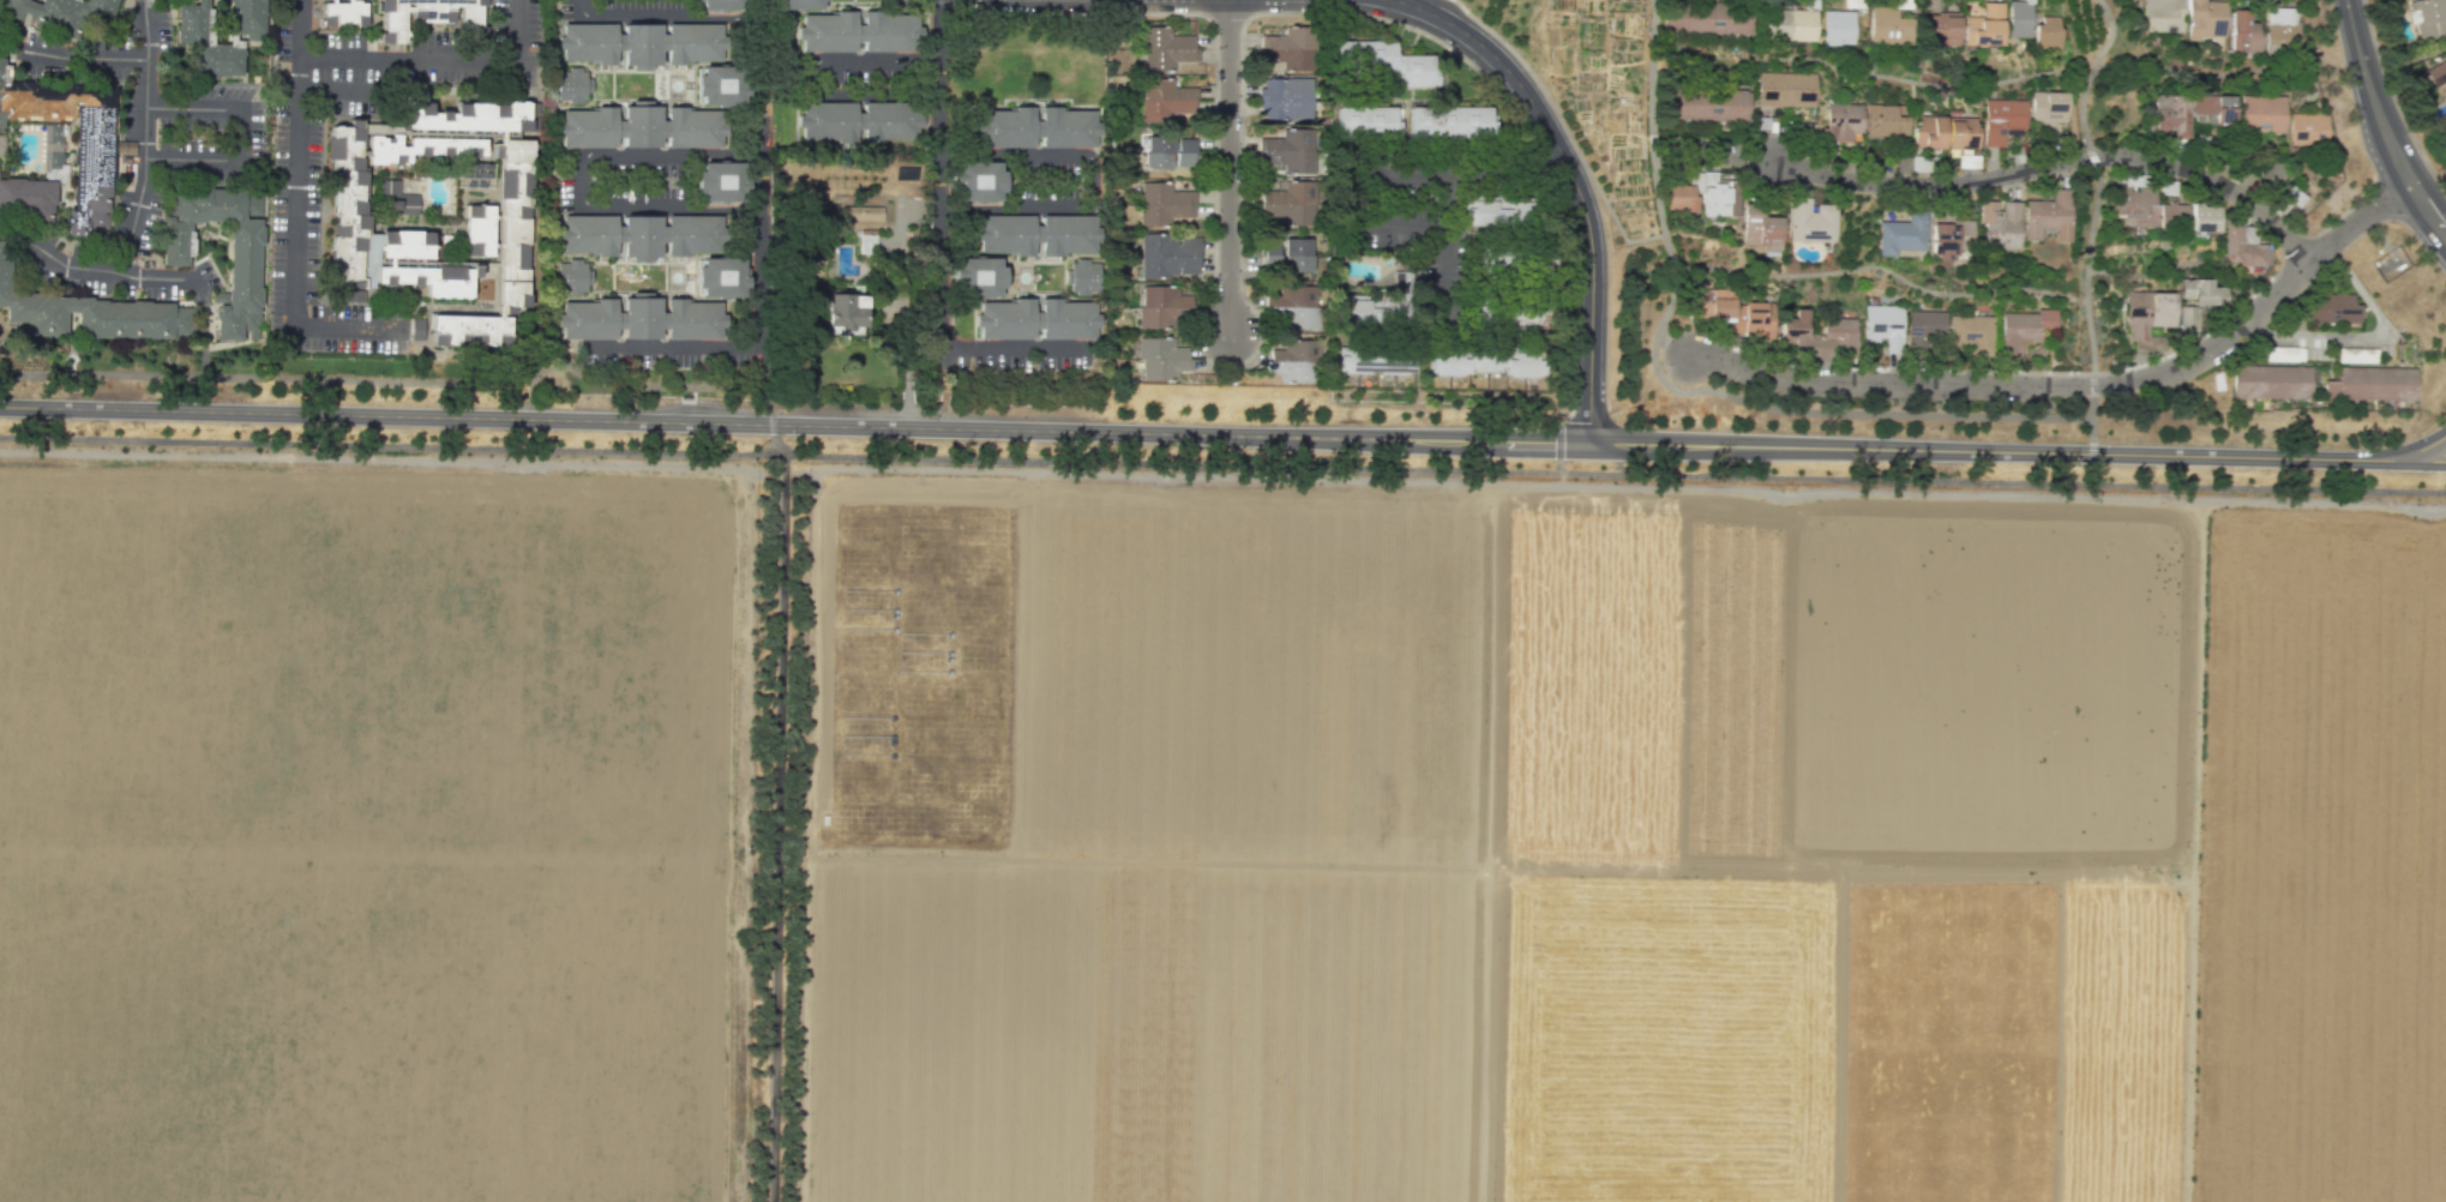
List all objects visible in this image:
road: (1402, 0)
building: (722, 2)
building: (801, 4)
road: (663, 14)
building: (2162, 14)
building: (344, 17)
building: (432, 17)
building: (1703, 17)
building: (2020, 18)
building: (2205, 18)
building: (2428, 18)
building: (62, 19)
building: (1991, 24)
building: (1792, 26)
building: (1888, 28)
building: (2280, 28)
street lamp: (1407, 29)
building: (1839, 29)
building: (2048, 29)
building: (1945, 30)
building: (860, 31)
building: (2242, 32)
road: (2110, 34)
building: (1161, 35)
road: (13, 37)
building: (639, 41)
building: (193, 47)
building: (1287, 48)
building: (1167, 54)
road: (2404, 54)
road: (83, 56)
road: (437, 56)
road: (531, 56)
building: (1386, 58)
road: (2090, 70)
building: (2436, 72)
road: (2213, 73)
road: (815, 74)
road: (1868, 74)
building: (721, 79)
building: (572, 85)
building: (1165, 86)
street lamp: (2346, 86)
building: (1785, 89)
road: (339, 95)
building: (1285, 98)
building: (1708, 104)
building: (1161, 107)
building: (2051, 108)
building: (2212, 108)
road: (2081, 110)
building: (2170, 113)
building: (2262, 113)
building: (858, 116)
building: (1365, 118)
building: (1450, 119)
building: (471, 120)
building: (2002, 120)
building: (1888, 121)
building: (1841, 125)
road: (1564, 126)
building: (641, 127)
road: (2381, 127)
building: (1036, 128)
building: (2308, 128)
building: (1930, 132)
building: (1964, 133)
road: (242, 136)
road: (144, 138)
building: (1287, 138)
building: (1158, 139)
building: (50, 143)
building: (1, 145)
building: (1184, 151)
building: (91, 152)
building: (429, 155)
building: (1155, 156)
building: (1290, 157)
road: (2093, 157)
road: (1719, 158)
road: (1365, 161)
road: (2055, 163)
road: (1228, 166)
road: (758, 173)
building: (974, 174)
building: (721, 175)
road: (579, 178)
road: (1087, 180)
road: (547, 182)
road: (1574, 182)
road: (1438, 188)
building: (1291, 190)
building: (1164, 191)
building: (1679, 197)
building: (1715, 200)
building: (399, 203)
building: (2134, 204)
building: (1288, 209)
road: (298, 210)
building: (349, 210)
building: (1161, 210)
building: (861, 212)
building: (2172, 212)
building: (1501, 214)
building: (2048, 215)
building: (2205, 217)
building: (1810, 221)
building: (2000, 226)
building: (518, 227)
building: (1759, 227)
building: (483, 233)
building: (1034, 233)
building: (1904, 233)
road: (2379, 233)
building: (641, 235)
building: (1942, 239)
building: (245, 242)
building: (1167, 242)
building: (1294, 242)
building: (866, 244)
building: (408, 246)
road: (937, 246)
building: (2242, 247)
street lamp: (1607, 253)
building: (1297, 259)
building: (1167, 263)
building: (1514, 263)
road: (1876, 266)
road: (90, 268)
road: (2087, 270)
building: (975, 272)
road: (2145, 272)
building: (1081, 274)
building: (720, 275)
building: (572, 276)
street lamp: (1212, 276)
building: (1401, 278)
building: (434, 283)
building: (2200, 292)
building: (1162, 294)
building: (1292, 294)
road: (2077, 299)
road: (2083, 300)
building: (1714, 303)
building: (2330, 306)
building: (843, 307)
building: (1371, 311)
building: (1510, 311)
building: (2147, 312)
building: (1296, 313)
building: (83, 314)
building: (1159, 314)
building: (1034, 315)
building: (639, 318)
building: (2188, 318)
building: (1760, 320)
building: (1925, 323)
road: (204, 326)
building: (1839, 327)
building: (1885, 327)
building: (419, 329)
building: (2024, 329)
building: (1796, 330)
building: (473, 333)
building: (1972, 333)
road: (2364, 336)
road: (1671, 345)
road: (666, 347)
building: (1159, 347)
building: (1296, 348)
building: (2282, 351)
building: (2356, 353)
building: (1376, 361)
road: (905, 365)
building: (1489, 365)
building: (1164, 366)
building: (1291, 367)
road: (765, 380)
street lamp: (1727, 380)
building: (2270, 380)
road: (386, 381)
building: (2372, 384)
road: (2079, 385)
road: (2092, 385)
road: (937, 386)
road: (1693, 390)
road: (541, 392)
street lamp: (1933, 401)
street lamp: (1607, 403)
road: (2091, 407)
road: (770, 423)
street lamp: (2414, 433)
road: (1197, 434)
street lamp: (2098, 434)
street lamp: (785, 438)
road: (2421, 447)
road: (2091, 453)
road: (1045, 461)
road: (2420, 463)
road: (733, 469)
road: (2091, 474)
road: (2268, 488)
road: (815, 501)
road: (774, 817)
road: (1484, 843)

